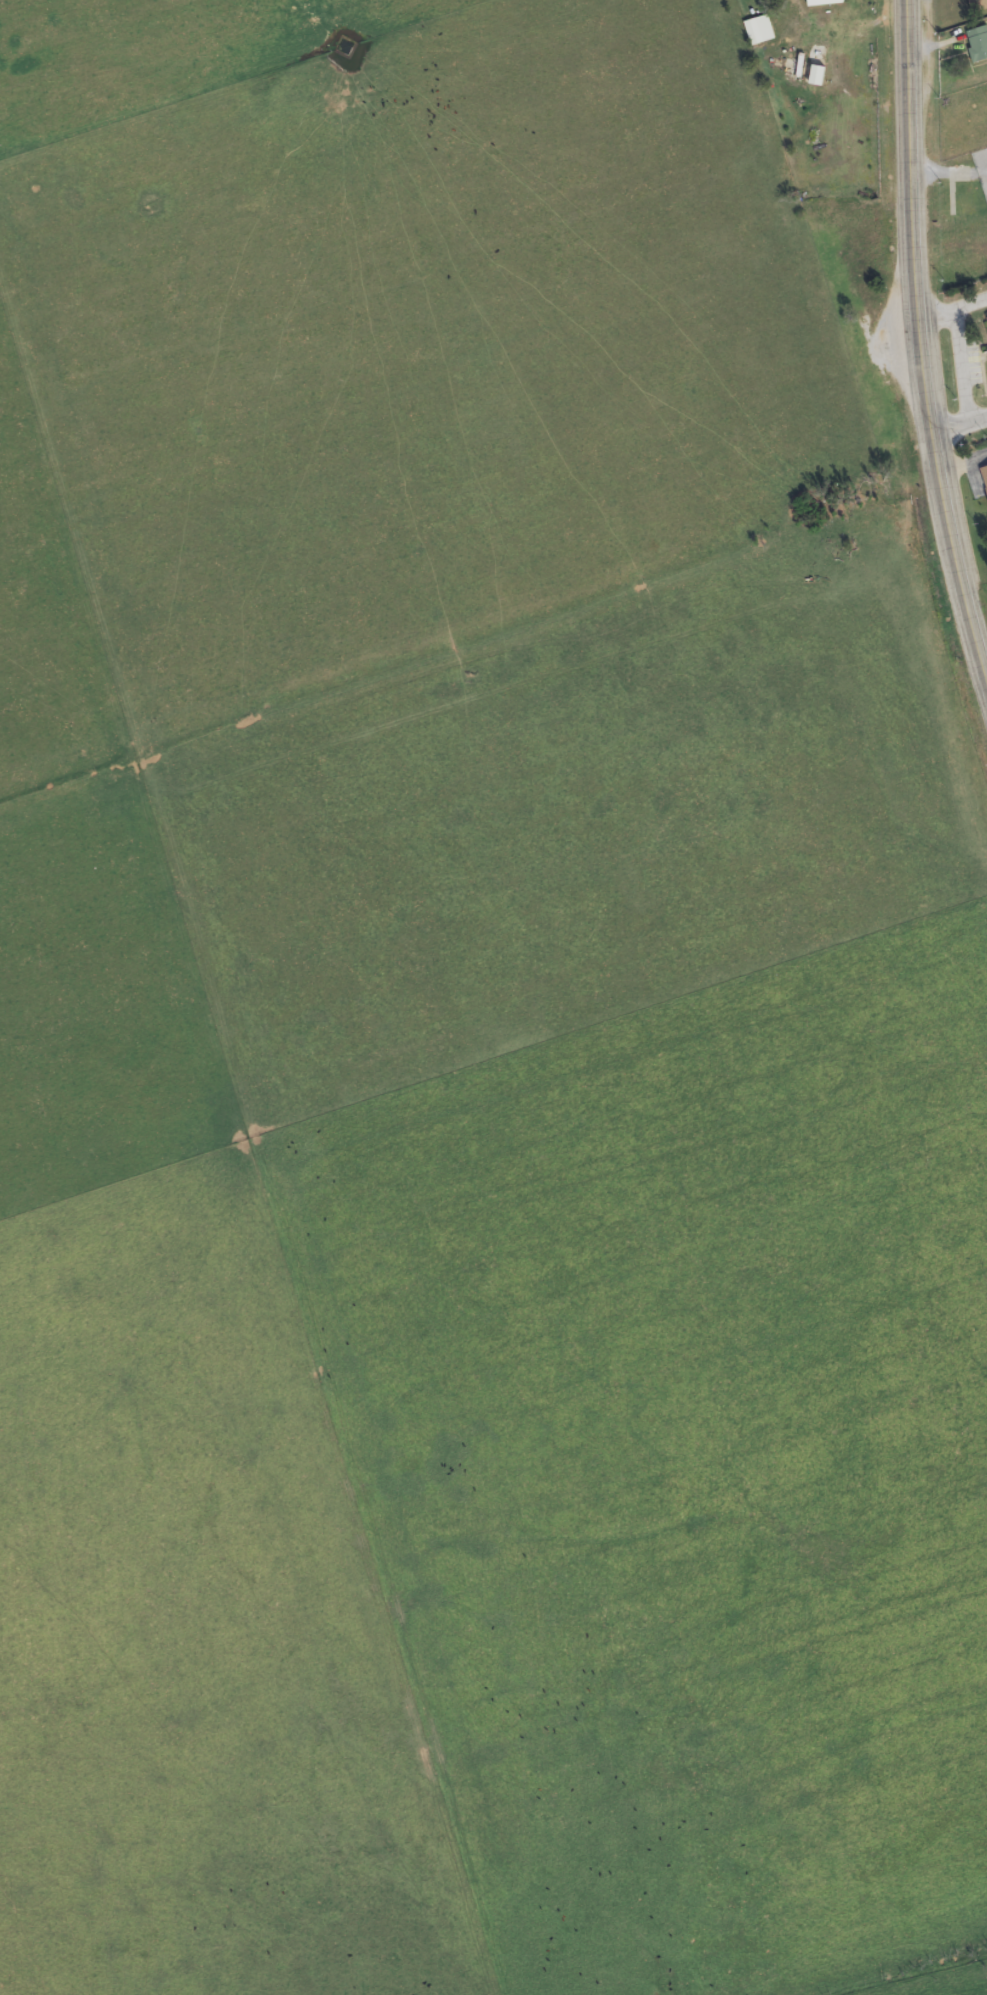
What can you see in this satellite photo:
building: (978, 6)
building: (978, 44)
road: (919, 345)
road: (957, 386)
building: (984, 476)

